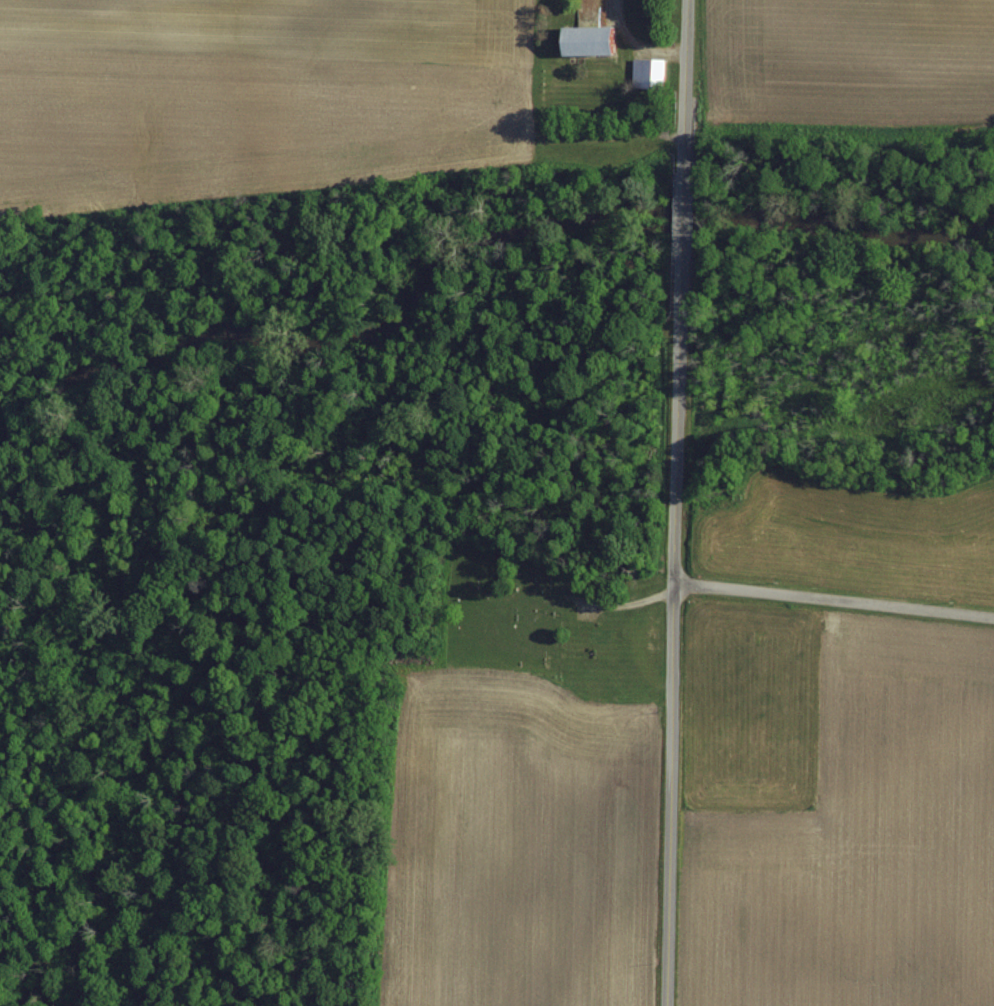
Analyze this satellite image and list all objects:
road: (683, 86)
road: (681, 211)
river: (477, 237)
road: (833, 602)
road: (671, 628)

